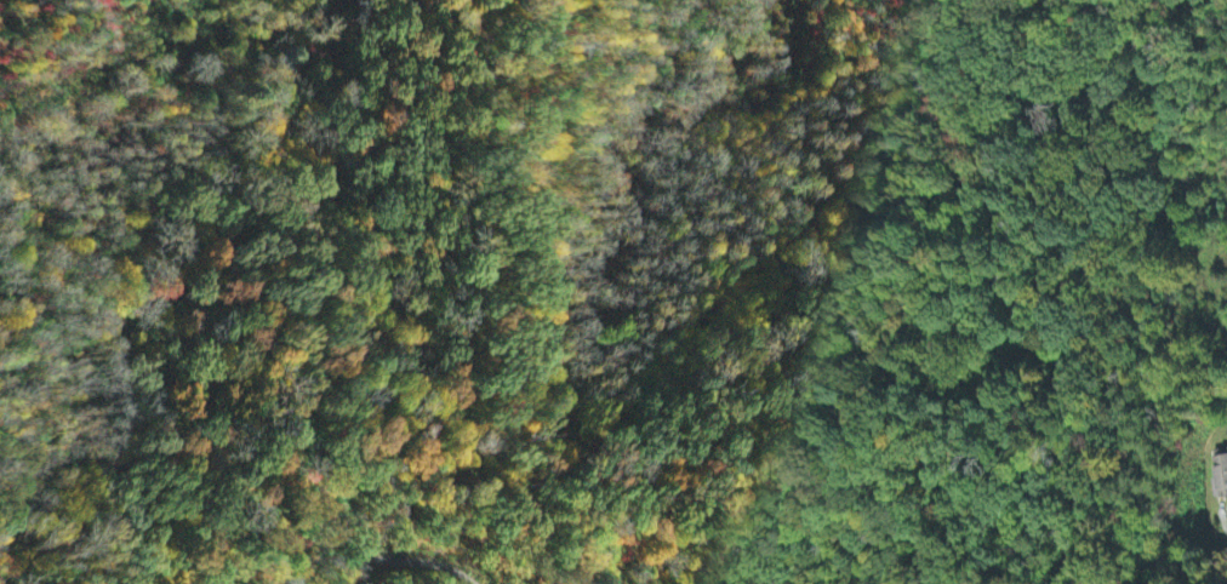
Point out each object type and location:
building: (1220, 479)

